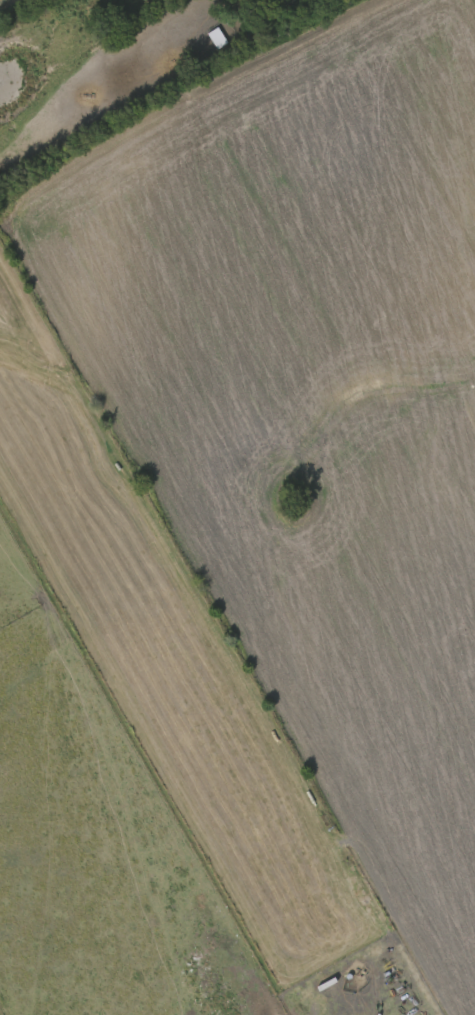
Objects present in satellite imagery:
building: (217, 37)

